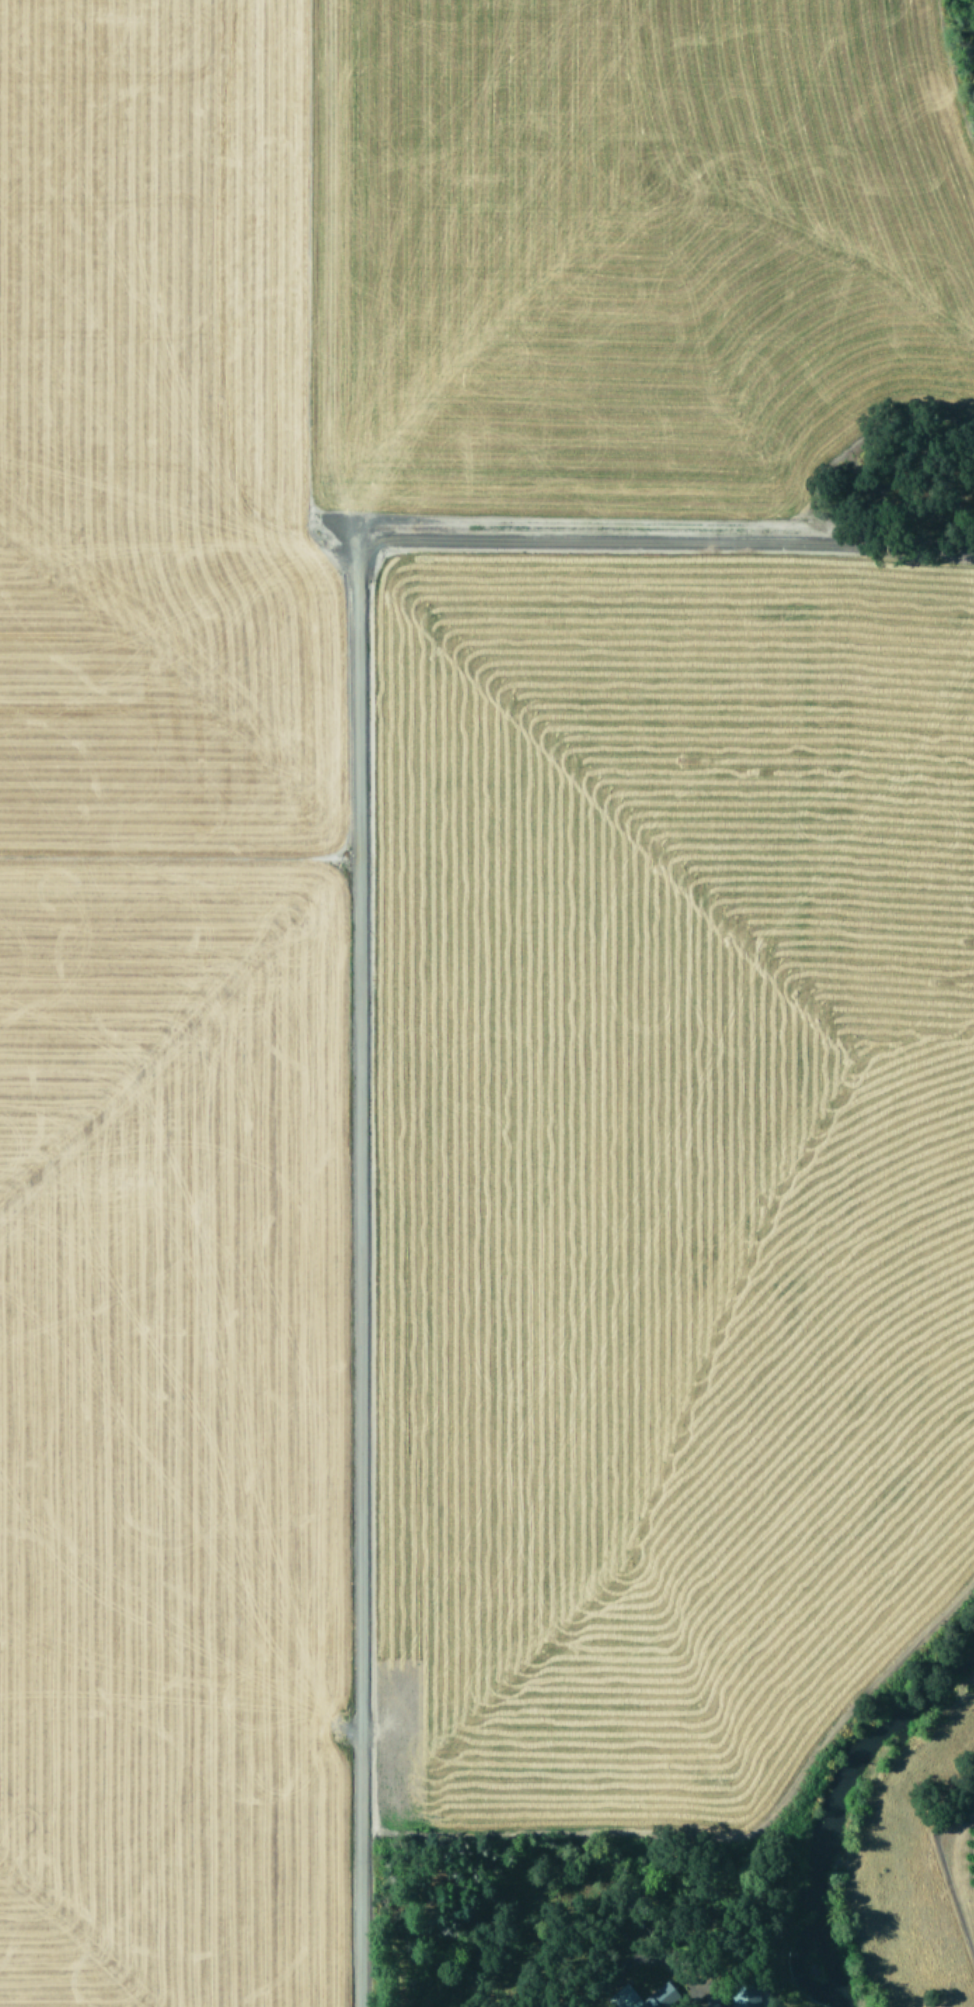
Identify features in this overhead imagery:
crop: (460, 945)
road: (361, 1059)

